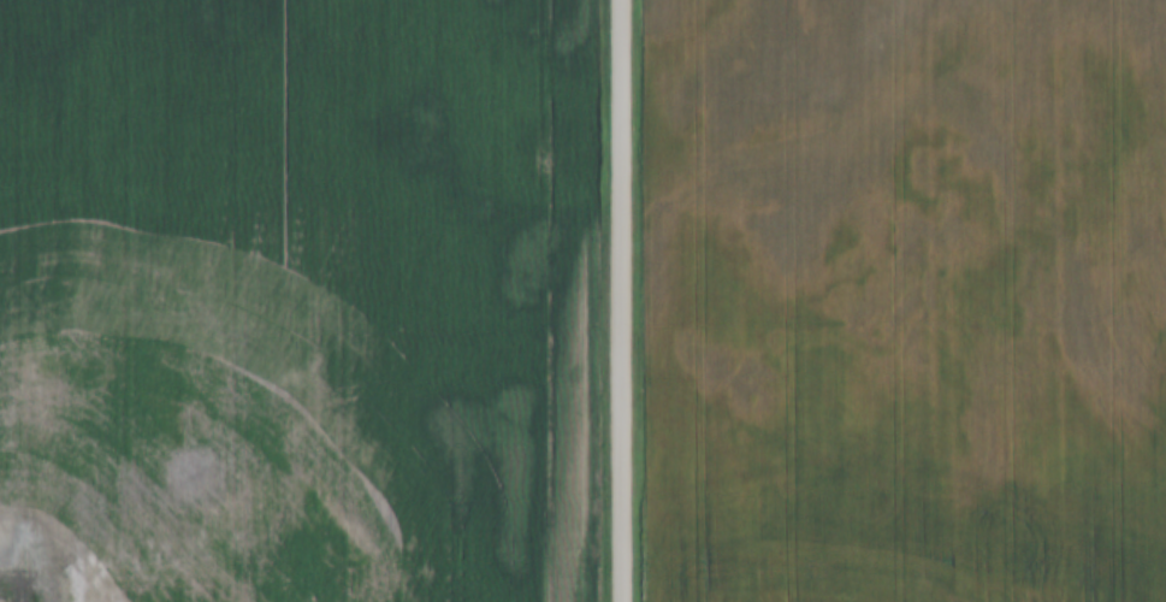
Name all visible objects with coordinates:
road: (625, 300)

